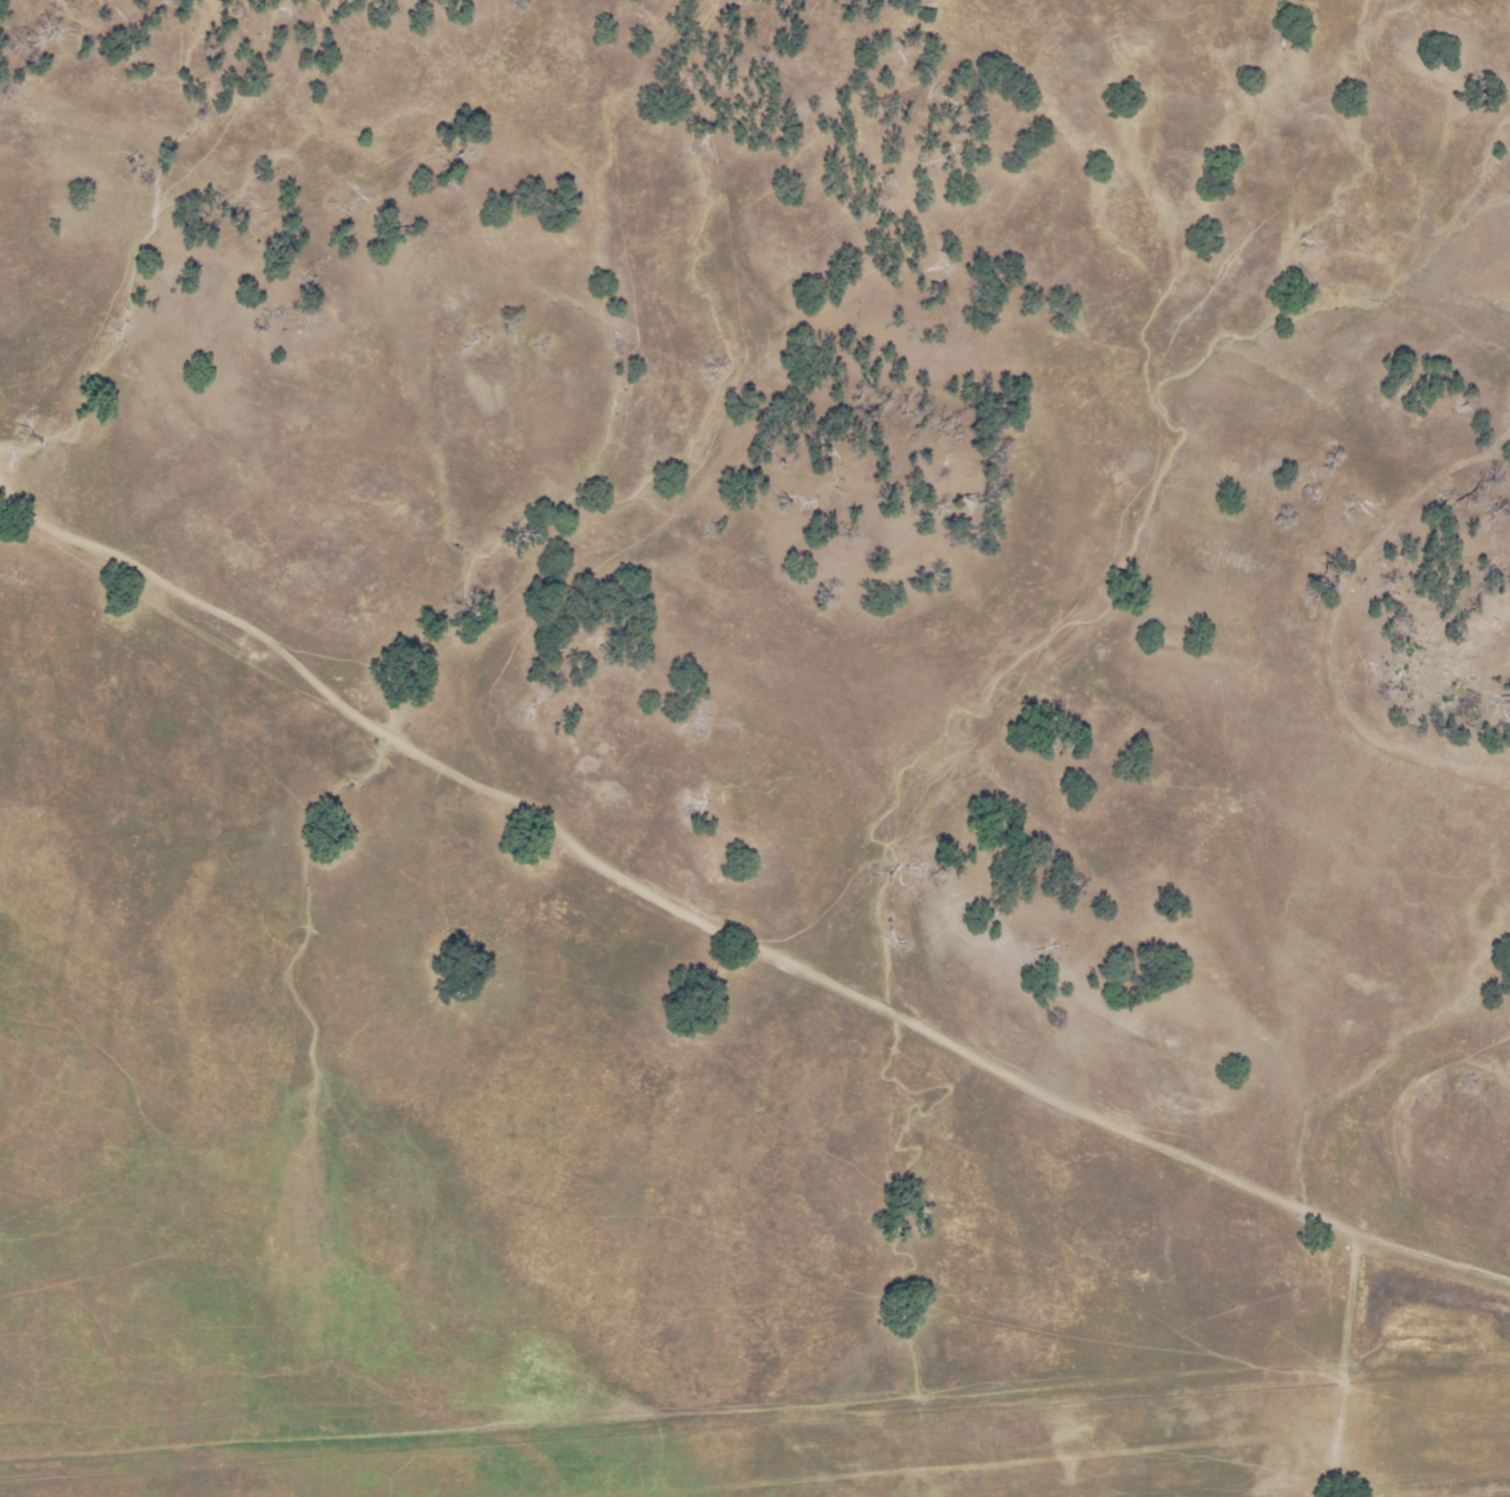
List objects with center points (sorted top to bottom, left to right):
road: (724, 932)
road: (1342, 1364)

